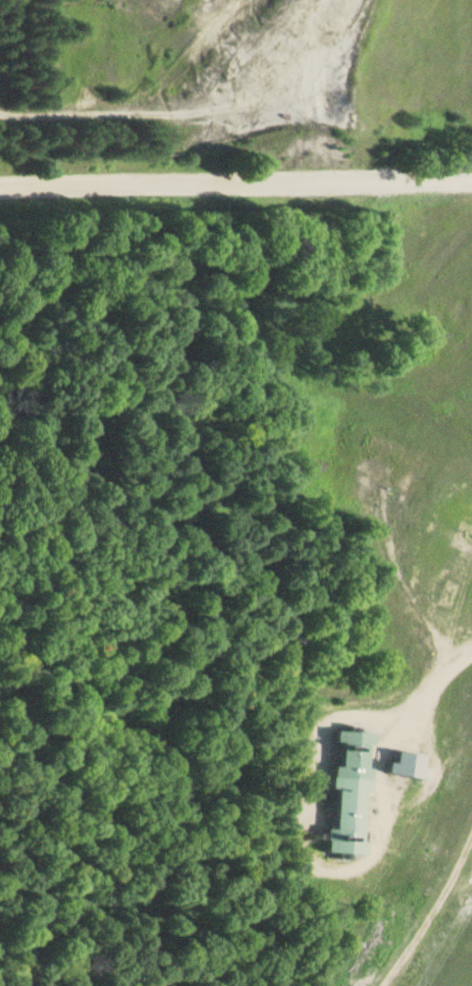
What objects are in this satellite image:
quarry: (195, 82)
road: (236, 185)
building: (390, 464)
road: (405, 581)
road: (437, 681)
road: (382, 761)
building: (406, 764)
building: (350, 795)
road: (318, 854)
road: (384, 859)

